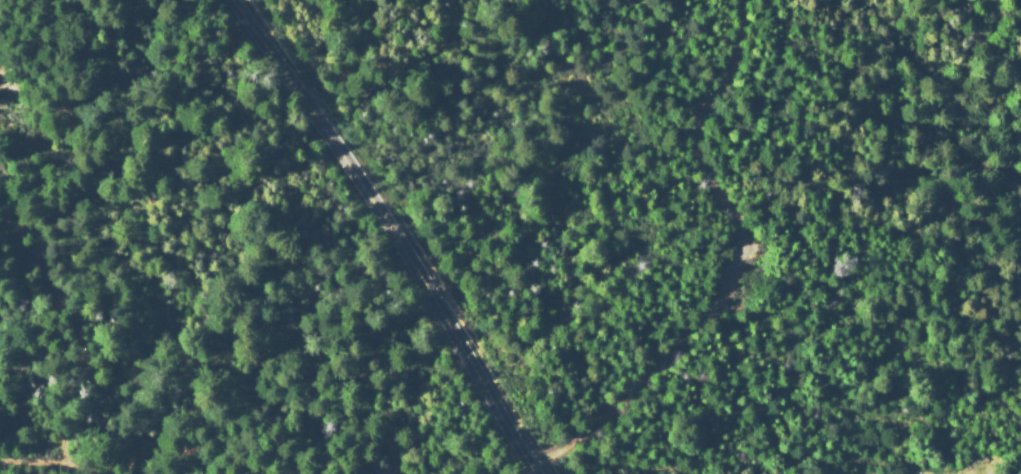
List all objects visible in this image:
road: (392, 230)

